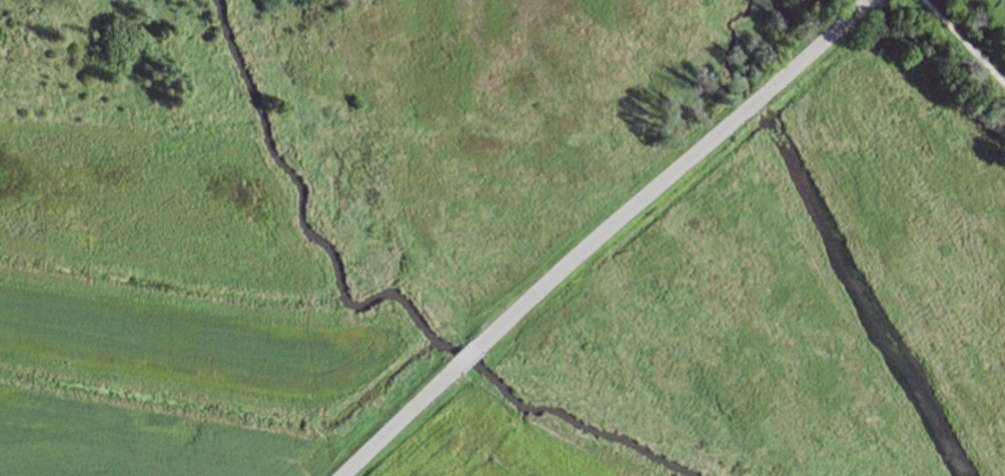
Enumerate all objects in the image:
road: (962, 43)
road: (672, 173)
road: (466, 357)
road: (398, 421)
crop: (489, 448)

